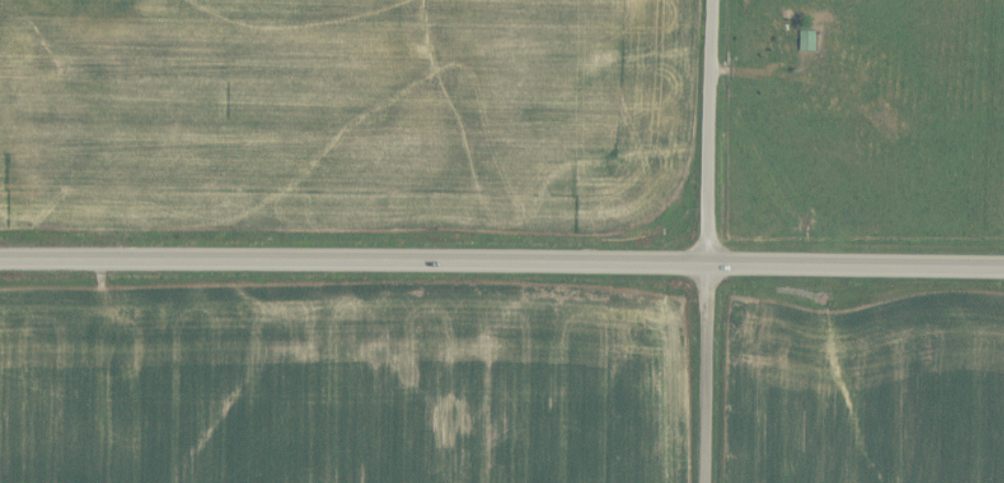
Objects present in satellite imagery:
building: (809, 40)
road: (711, 129)
road: (354, 256)
road: (856, 260)
road: (707, 371)

